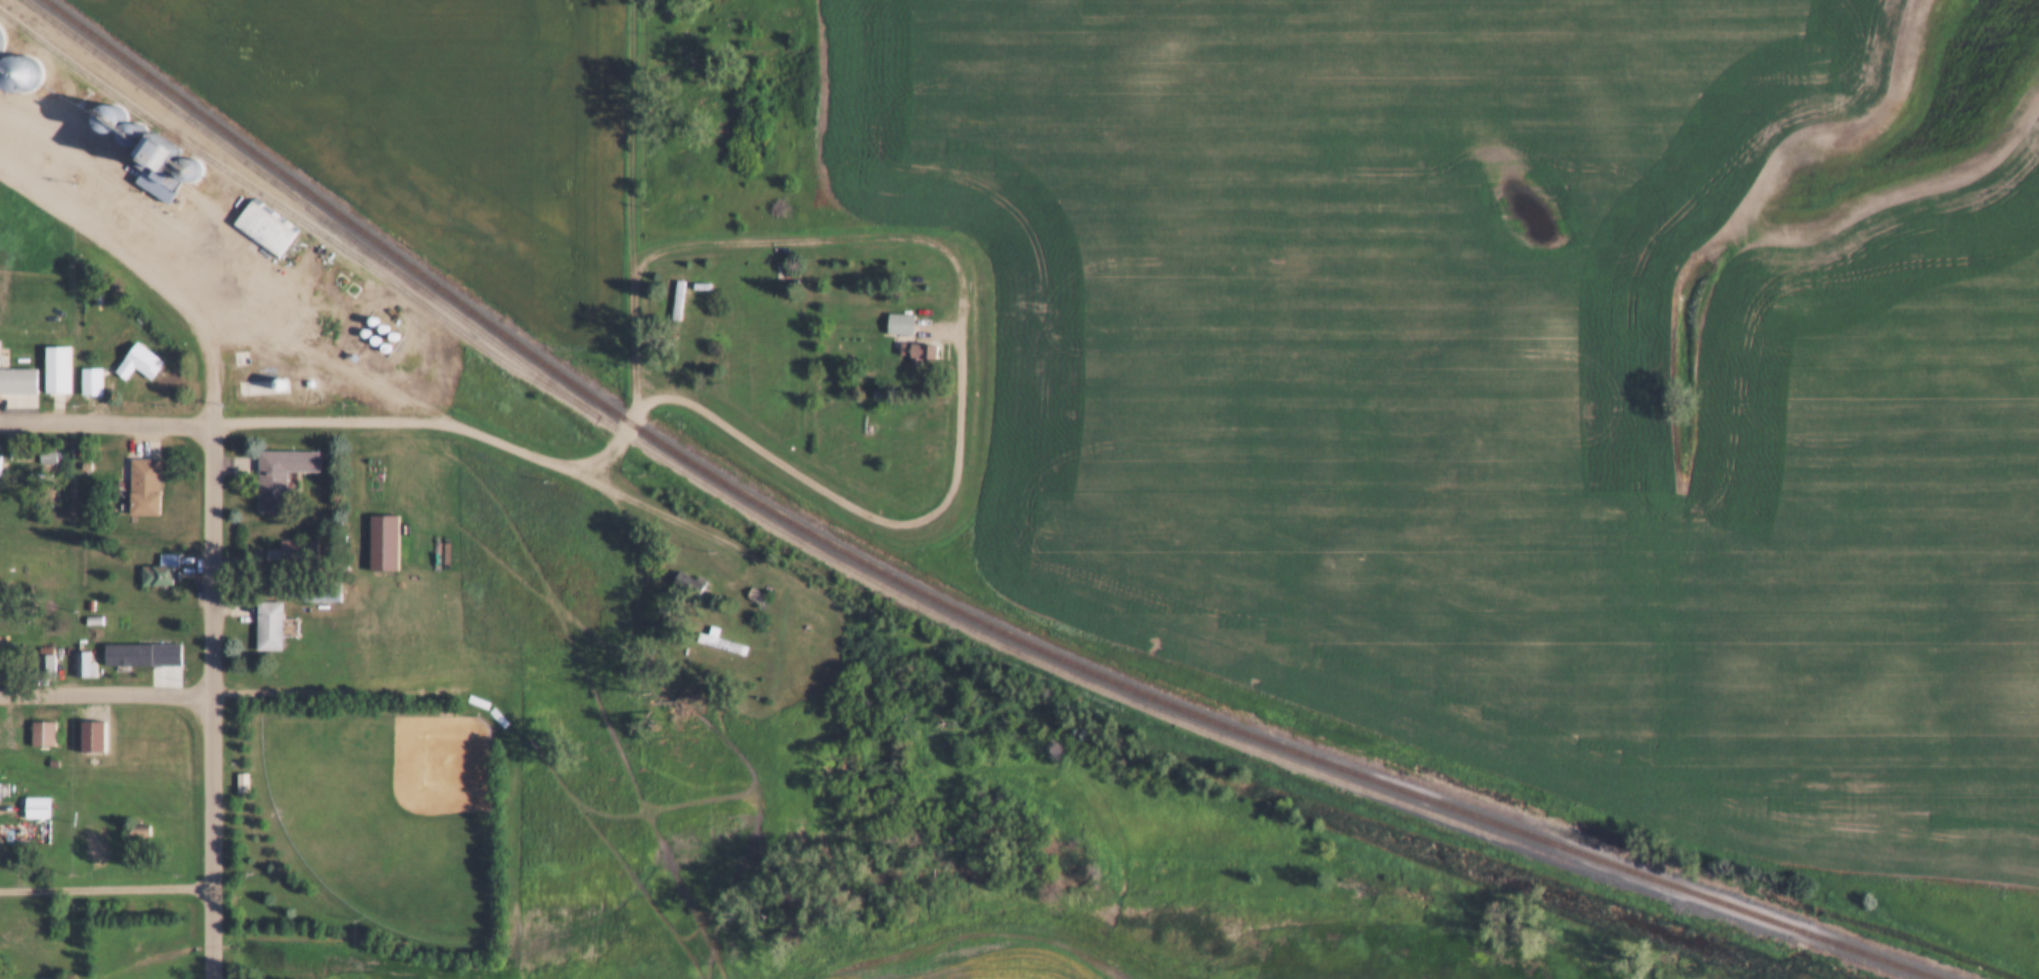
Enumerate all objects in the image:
building: (16, 60)
silo: (16, 60)
building: (105, 106)
silo: (105, 106)
building: (128, 120)
silo: (128, 120)
road: (636, 133)
building: (152, 144)
building: (182, 157)
silo: (182, 157)
building: (150, 170)
building: (257, 216)
railway: (296, 216)
road: (802, 238)
building: (694, 274)
building: (671, 287)
building: (368, 307)
silo: (368, 307)
building: (893, 311)
building: (377, 315)
silo: (377, 315)
building: (360, 318)
silo: (360, 318)
building: (387, 323)
silo: (387, 323)
building: (902, 323)
building: (369, 325)
silo: (369, 325)
road: (277, 330)
building: (379, 333)
silo: (379, 333)
building: (910, 338)
storage tank: (16, 345)
building: (346, 345)
building: (132, 349)
building: (0, 350)
building: (920, 351)
road: (213, 354)
building: (50, 357)
building: (142, 363)
building: (15, 368)
building: (85, 370)
building: (273, 371)
silo: (273, 371)
crop: (1523, 379)
building: (19, 382)
road: (637, 382)
building: (93, 383)
road: (963, 408)
road: (327, 419)
road: (107, 421)
building: (39, 443)
road: (770, 452)
building: (274, 463)
building: (2, 466)
building: (137, 474)
building: (148, 487)
building: (377, 531)
building: (306, 548)
road: (749, 551)
railway: (838, 560)
building: (154, 561)
building: (683, 569)
building: (164, 571)
building: (749, 583)
building: (686, 584)
building: (83, 592)
building: (327, 593)
building: (756, 596)
railway: (934, 599)
building: (88, 607)
building: (262, 613)
building: (271, 625)
building: (713, 629)
building: (136, 641)
building: (726, 644)
building: (0, 650)
building: (40, 652)
building: (78, 653)
road: (335, 691)
road: (107, 694)
road: (215, 700)
building: (36, 721)
building: (87, 725)
building: (45, 732)
building: (2, 740)
building: (47, 750)
building: (236, 770)
building: (243, 782)
building: (1, 791)
building: (30, 794)
park: (383, 802)
building: (37, 807)
building: (142, 831)
building: (20, 840)
road: (108, 888)
building: (40, 974)

